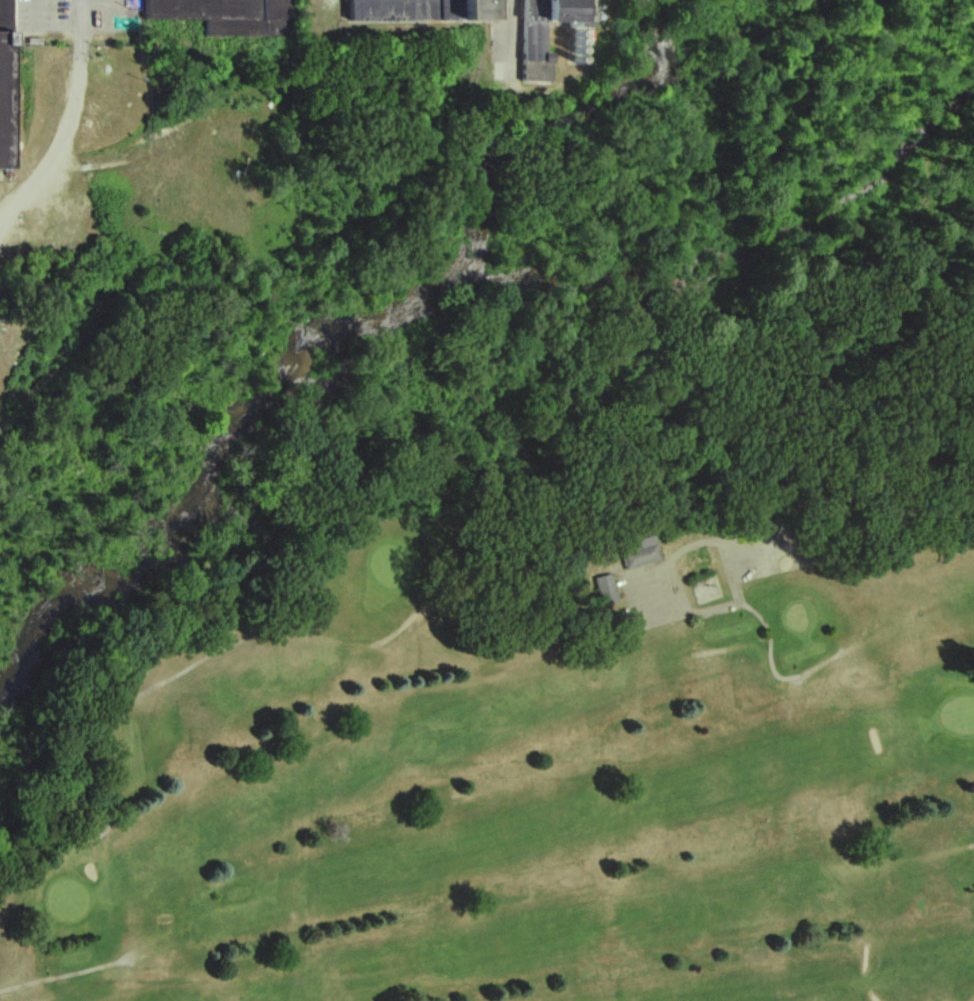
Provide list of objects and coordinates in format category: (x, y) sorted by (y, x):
building: (422, 11)
building: (226, 16)
parking lot: (67, 18)
road: (71, 27)
road: (511, 31)
building: (0, 43)
road: (61, 118)
road: (857, 534)
building: (637, 553)
building: (605, 590)
park: (539, 760)

